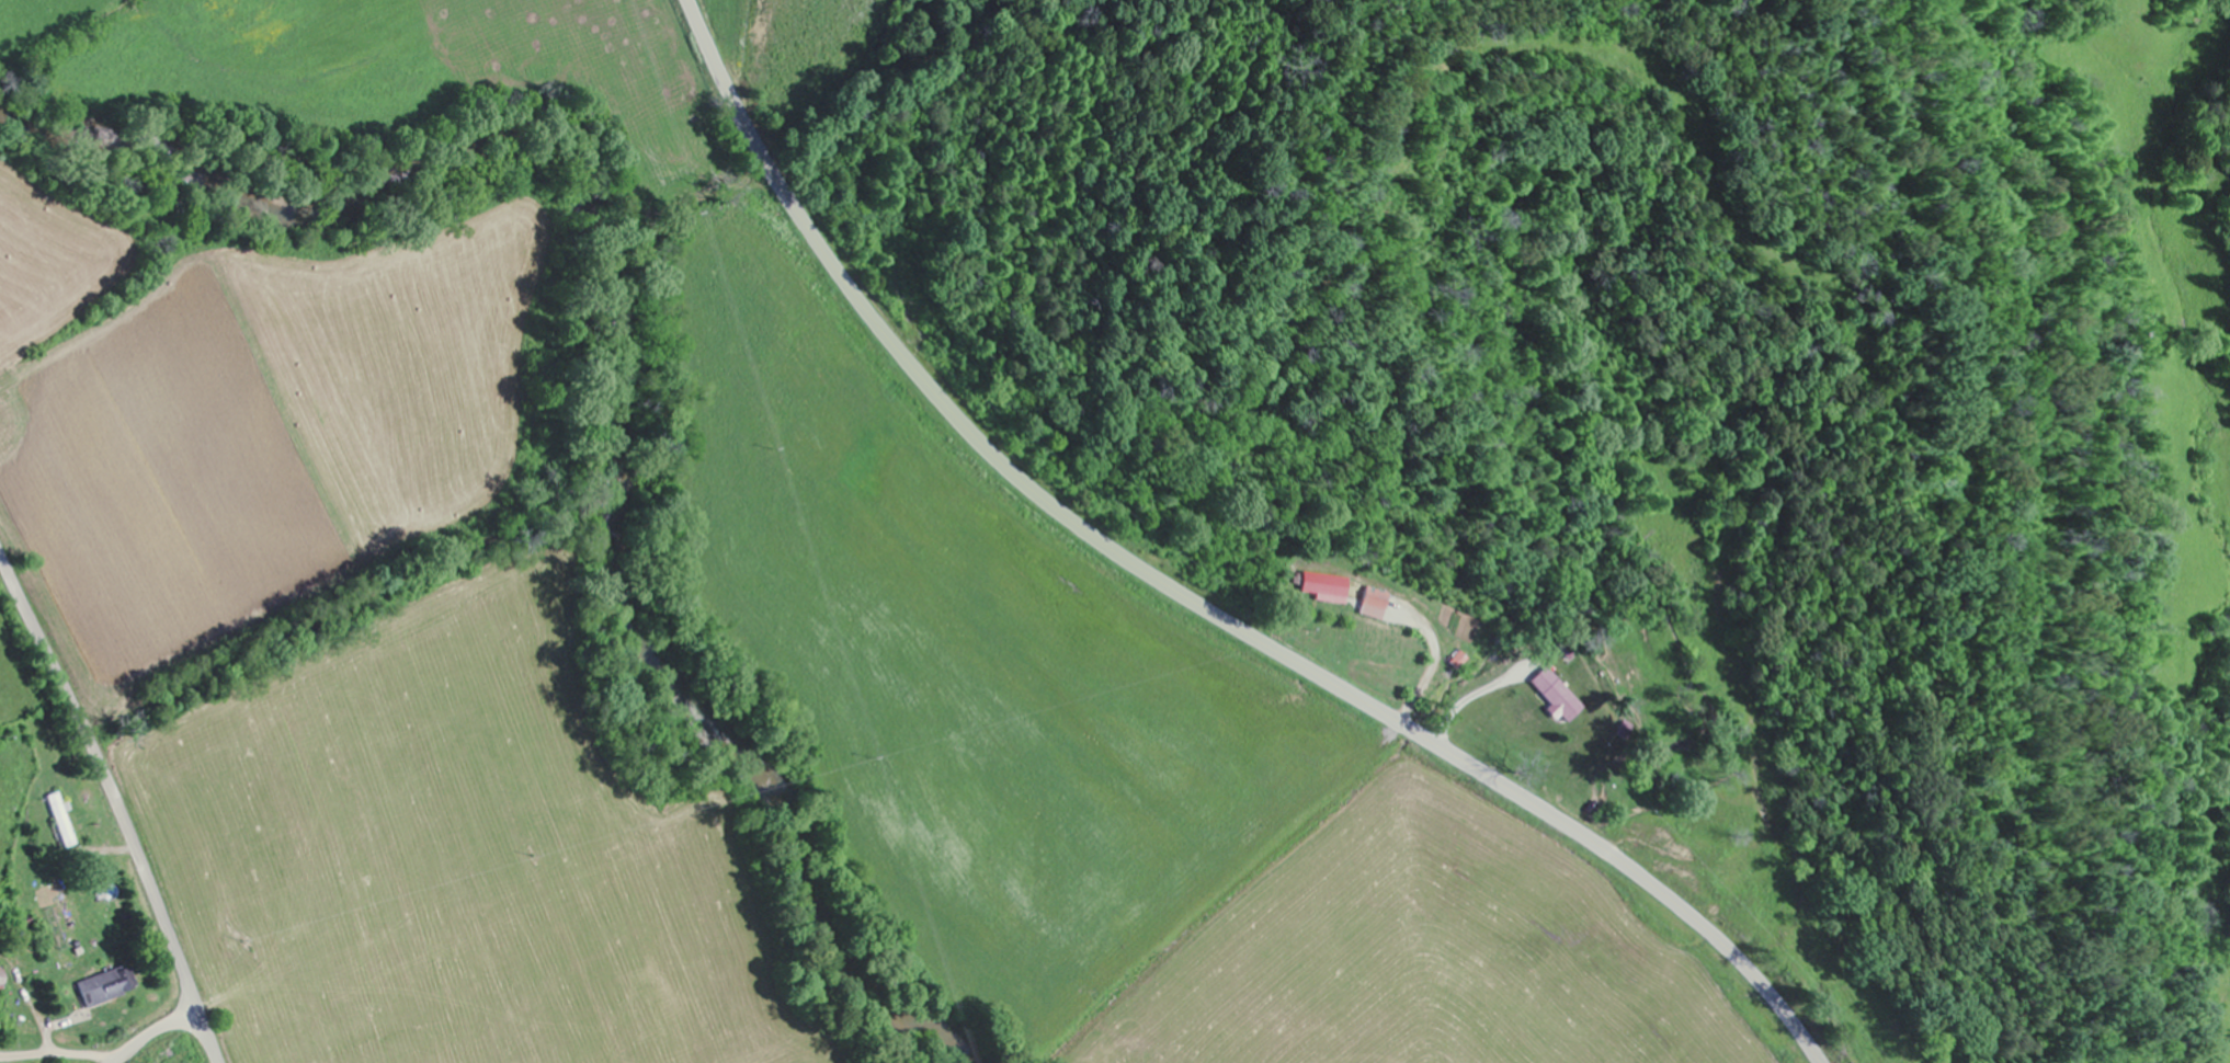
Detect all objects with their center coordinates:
road: (1454, 207)
river: (613, 363)
building: (1328, 590)
road: (1188, 596)
building: (1376, 605)
building: (1558, 698)
road: (118, 802)
building: (0, 980)
building: (105, 987)
road: (152, 1032)

